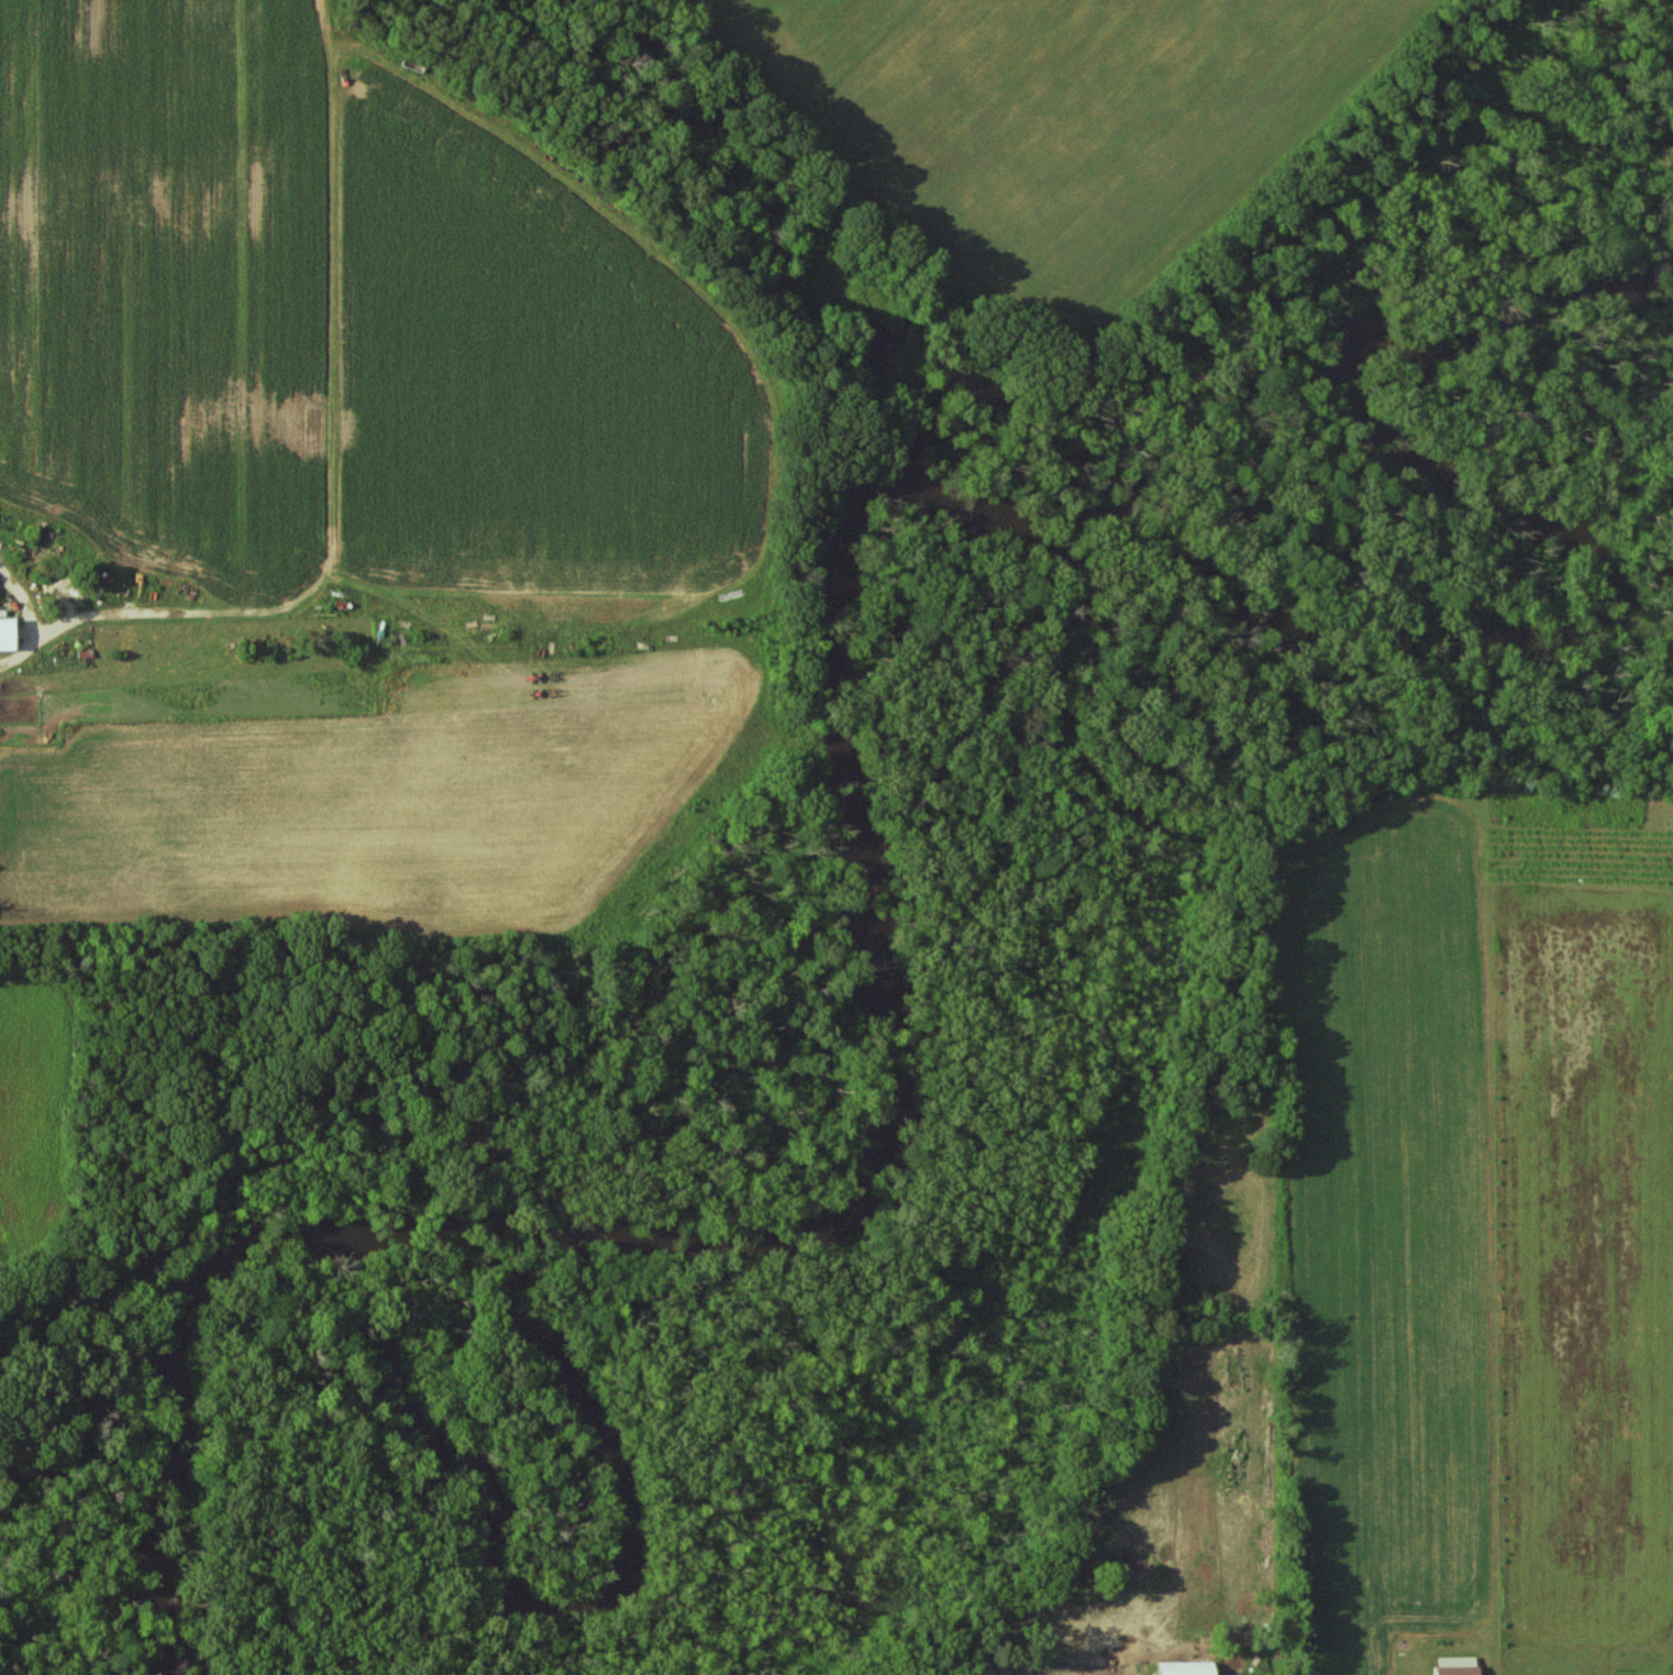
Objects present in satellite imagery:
road: (32, 617)
building: (4, 635)
river: (861, 815)
building: (1455, 1665)
building: (1184, 1667)

